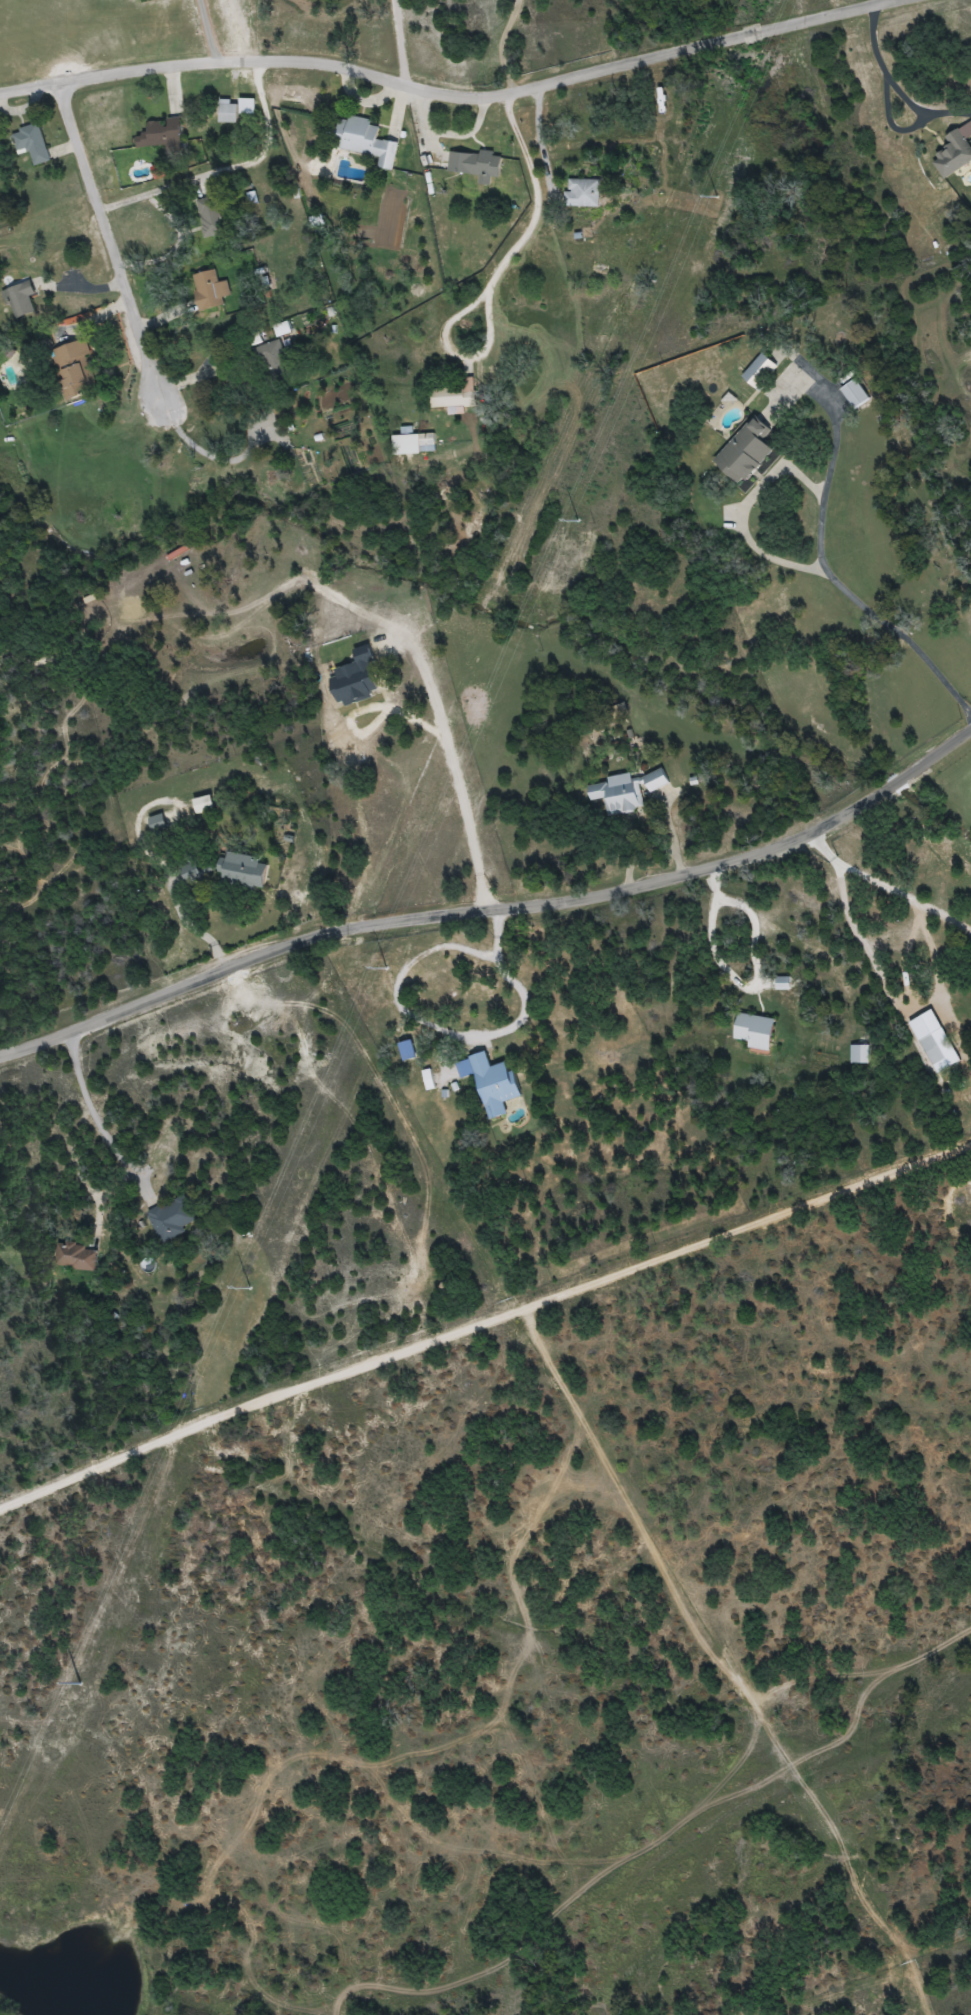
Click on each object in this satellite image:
road: (217, 28)
road: (444, 89)
building: (228, 113)
building: (164, 136)
building: (365, 141)
building: (32, 143)
building: (954, 154)
building: (476, 165)
building: (583, 193)
power tower: (715, 196)
building: (212, 217)
road: (116, 238)
road: (502, 273)
building: (210, 290)
building: (20, 299)
building: (273, 362)
building: (75, 370)
building: (761, 371)
building: (855, 394)
building: (455, 396)
building: (414, 443)
building: (746, 452)
road: (762, 481)
power tower: (576, 520)
road: (899, 641)
building: (626, 791)
building: (158, 824)
building: (191, 871)
building: (243, 871)
road: (493, 903)
power tower: (385, 967)
road: (744, 979)
road: (403, 1011)
building: (756, 1031)
building: (932, 1050)
building: (859, 1054)
building: (495, 1084)
building: (172, 1218)
building: (76, 1257)
power tower: (248, 1287)
road: (486, 1315)
power tower: (78, 1682)

